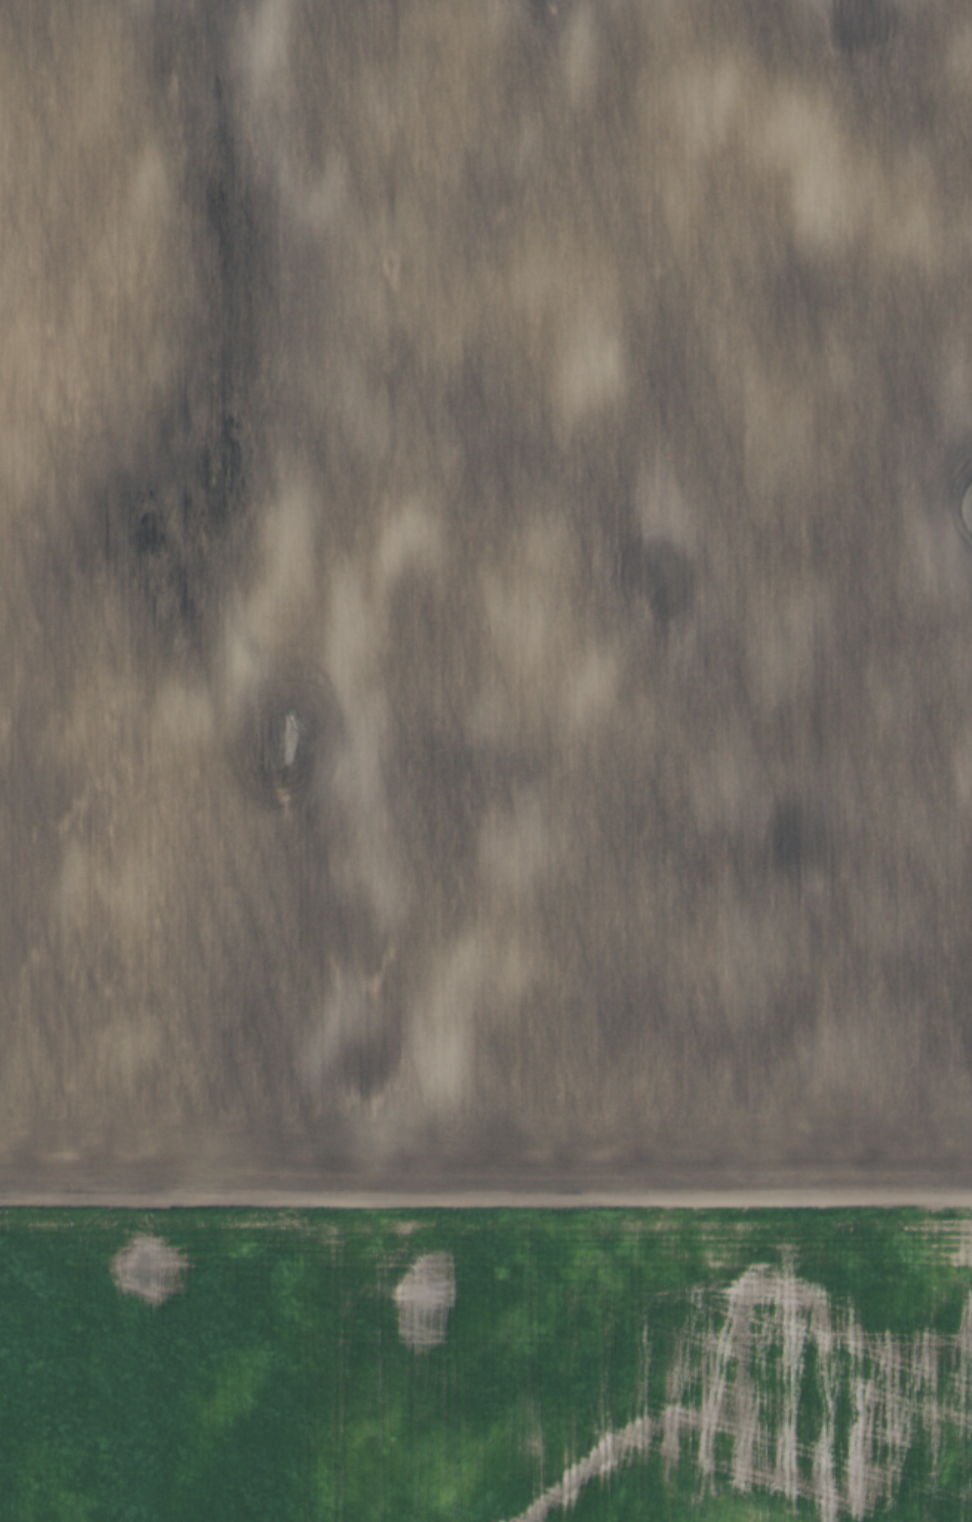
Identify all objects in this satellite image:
road: (486, 1192)

